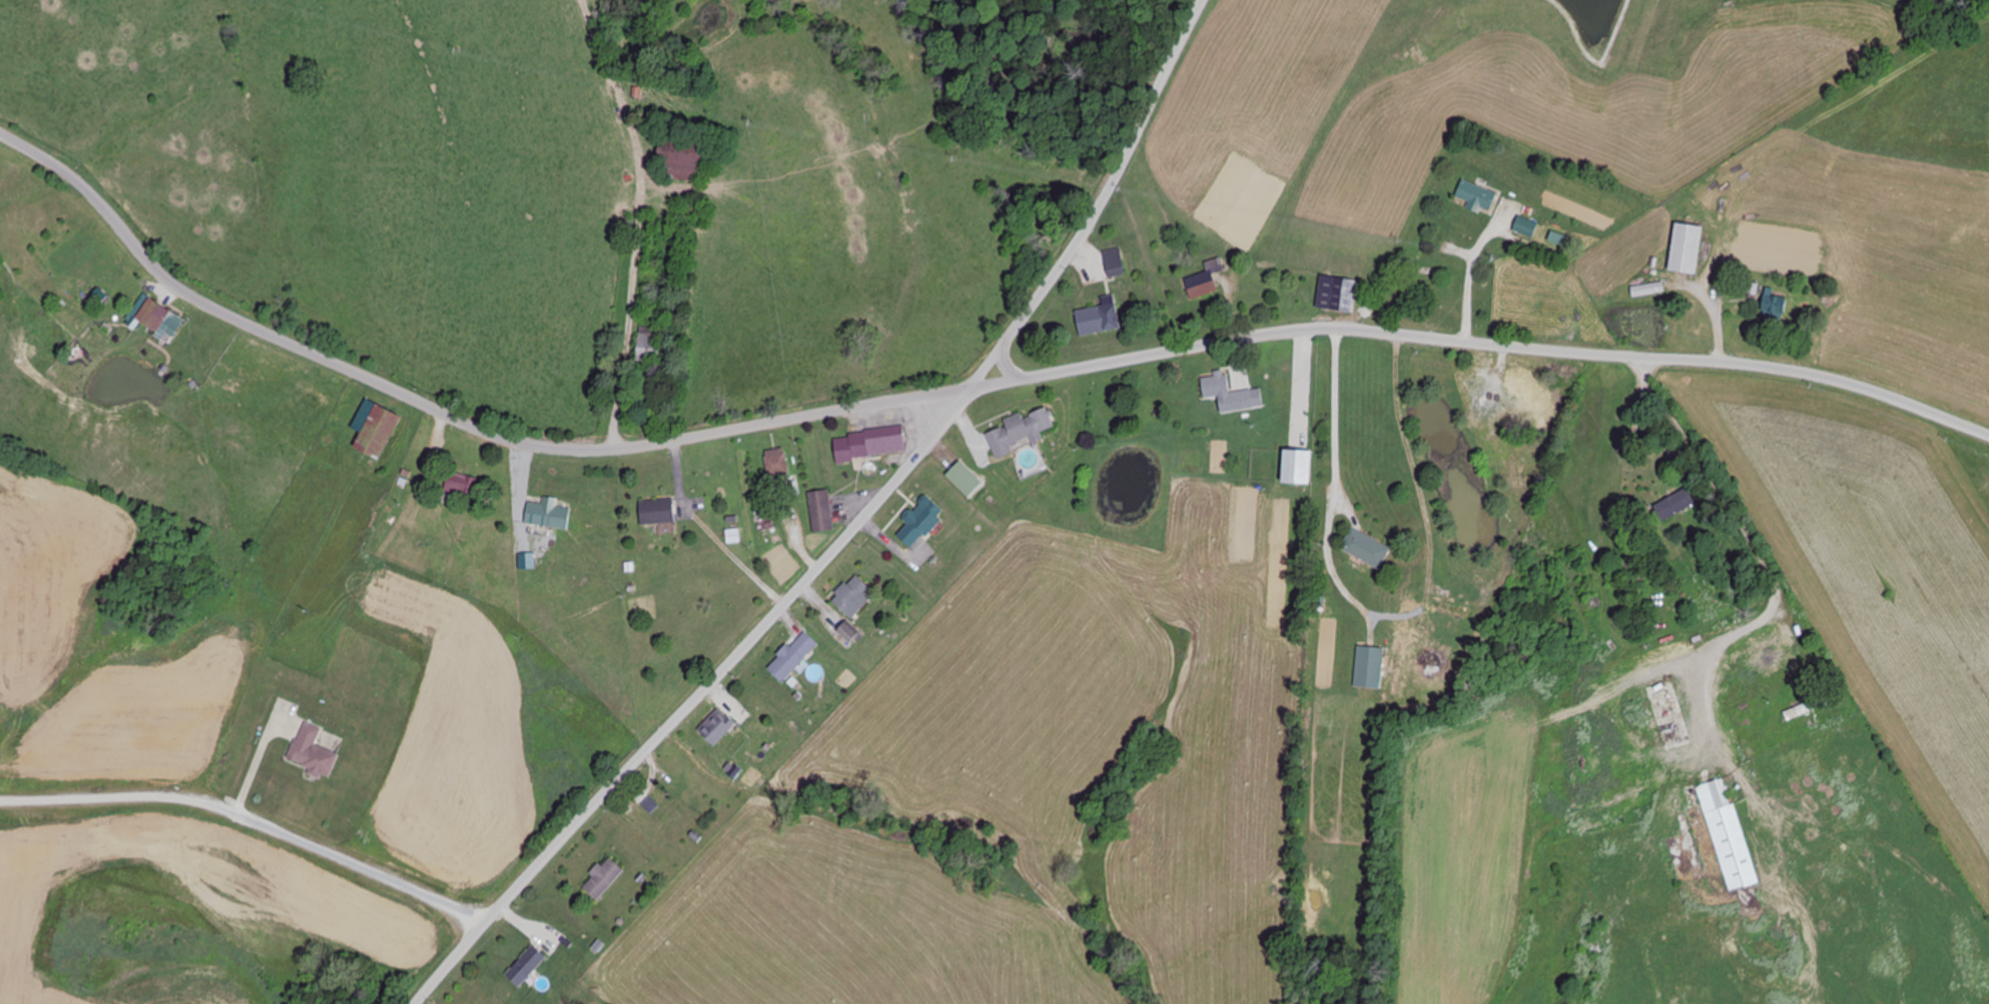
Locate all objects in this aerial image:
building: (684, 160)
building: (1477, 197)
road: (606, 225)
building: (1527, 227)
building: (1689, 249)
building: (1115, 263)
building: (1205, 280)
building: (1431, 280)
building: (1648, 290)
building: (1337, 294)
building: (1776, 304)
building: (153, 315)
building: (1099, 320)
building: (650, 346)
road: (1481, 348)
building: (1227, 394)
building: (1497, 407)
road: (445, 420)
road: (1332, 422)
building: (378, 430)
building: (1015, 435)
building: (870, 444)
building: (776, 462)
building: (1300, 468)
building: (966, 477)
building: (459, 484)
building: (1677, 504)
building: (821, 510)
building: (657, 511)
building: (548, 514)
building: (922, 521)
road: (849, 532)
building: (1367, 548)
road: (1719, 564)
building: (852, 595)
building: (850, 633)
building: (1769, 654)
building: (794, 656)
building: (1369, 667)
building: (1809, 707)
building: (717, 726)
building: (312, 752)
road: (249, 822)
building: (1728, 835)
building: (1695, 841)
building: (604, 878)
building: (527, 966)

